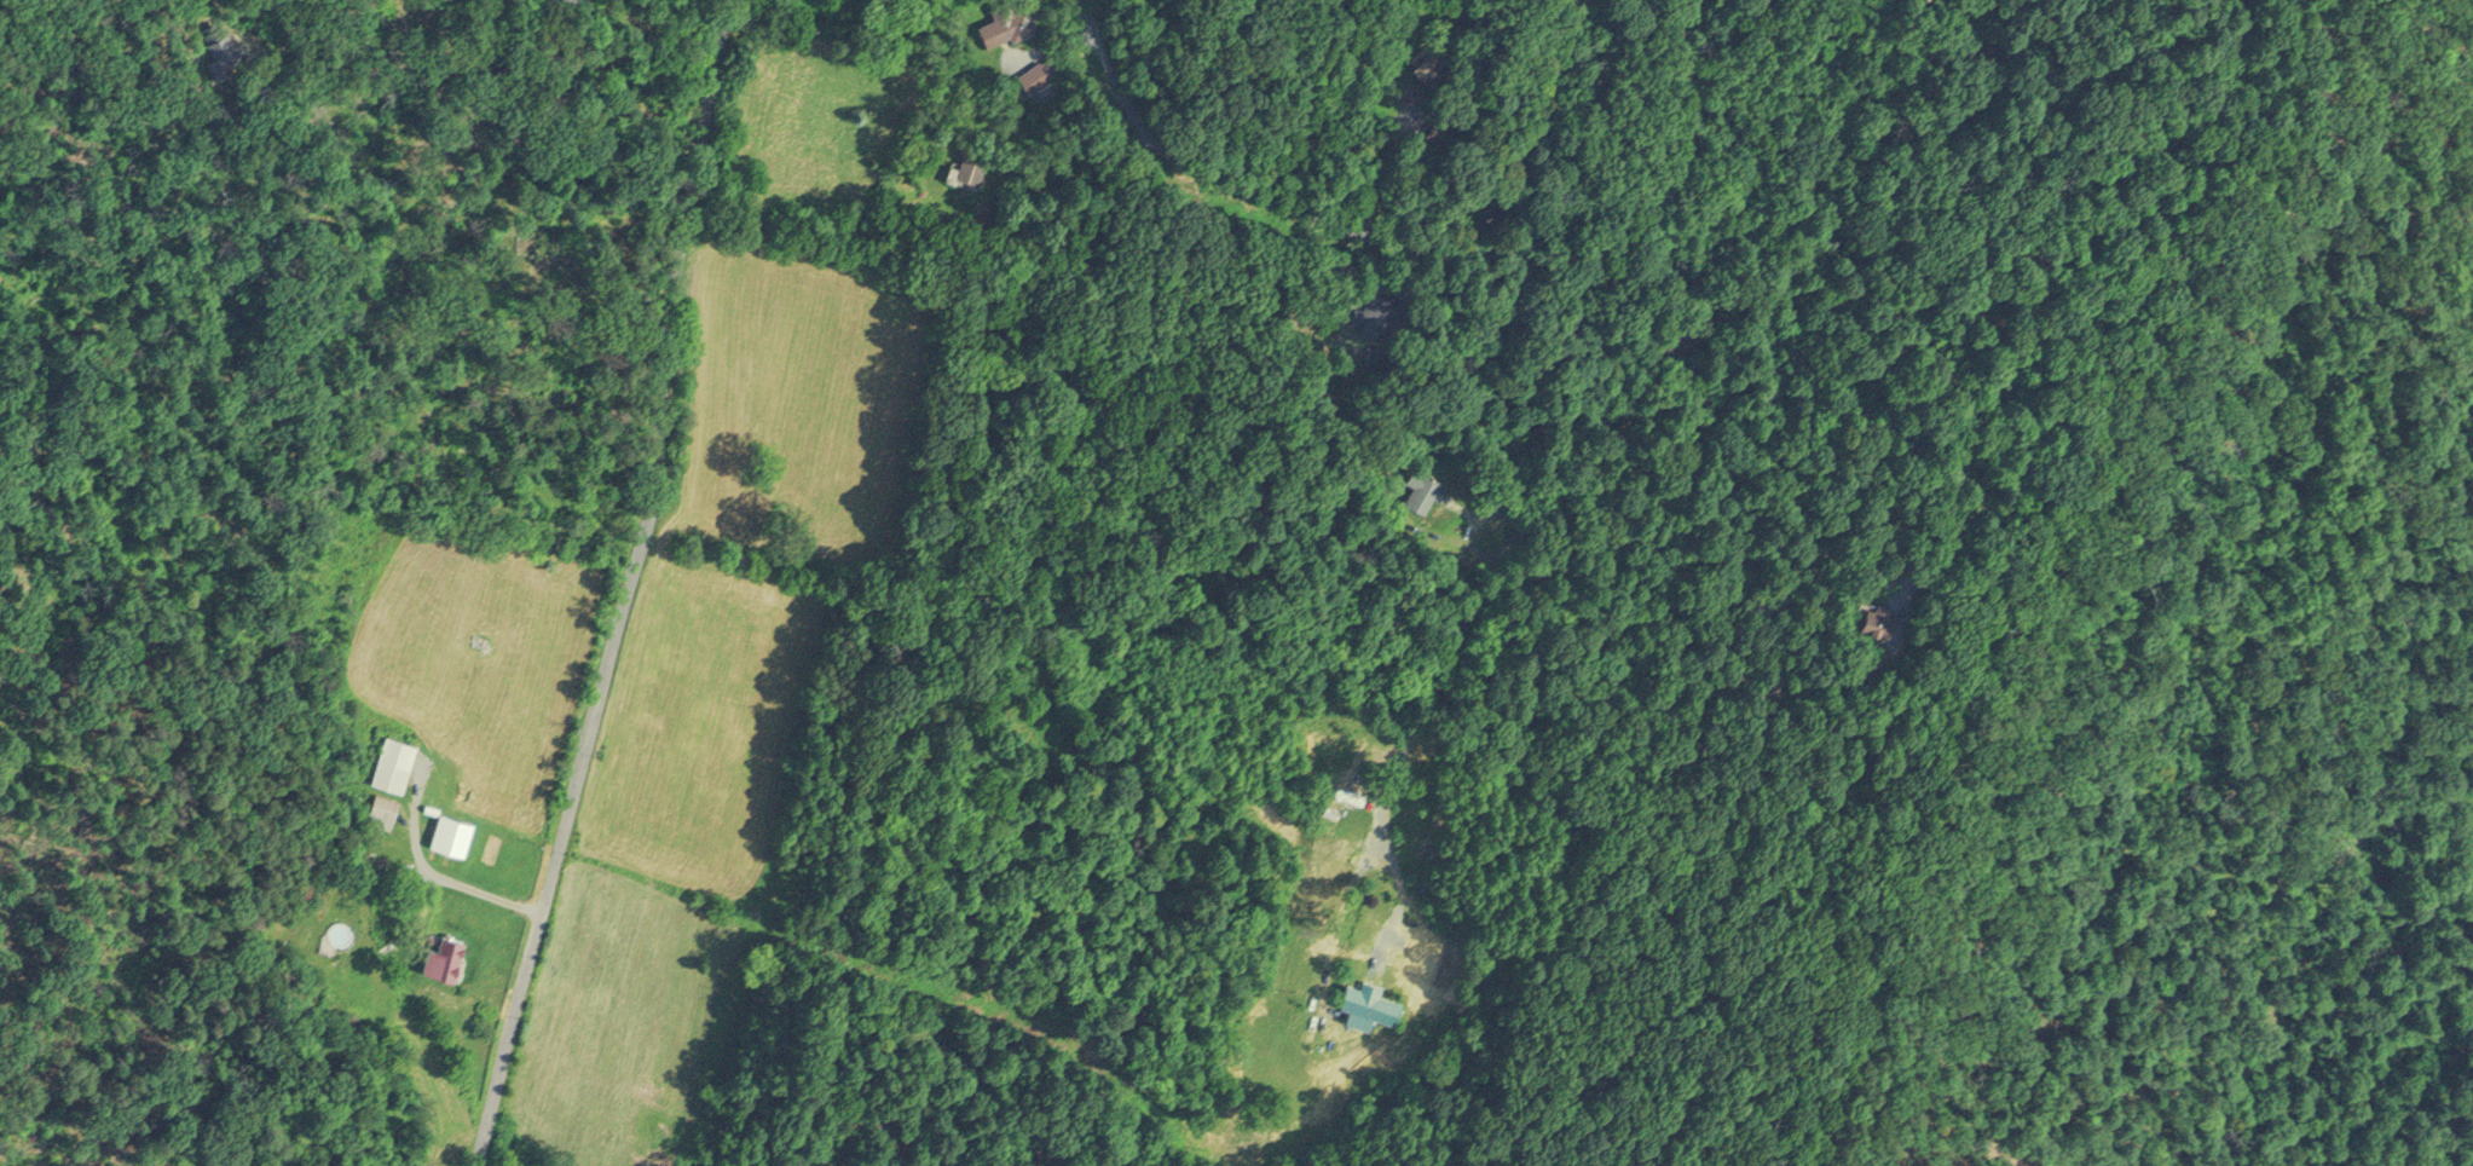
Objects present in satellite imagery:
building: (1009, 19)
building: (1039, 71)
building: (971, 160)
road: (1186, 181)
road: (1600, 426)
road: (628, 588)
building: (1873, 613)
building: (393, 760)
building: (1335, 795)
building: (381, 807)
building: (450, 830)
road: (431, 873)
building: (443, 952)
building: (1368, 1000)

